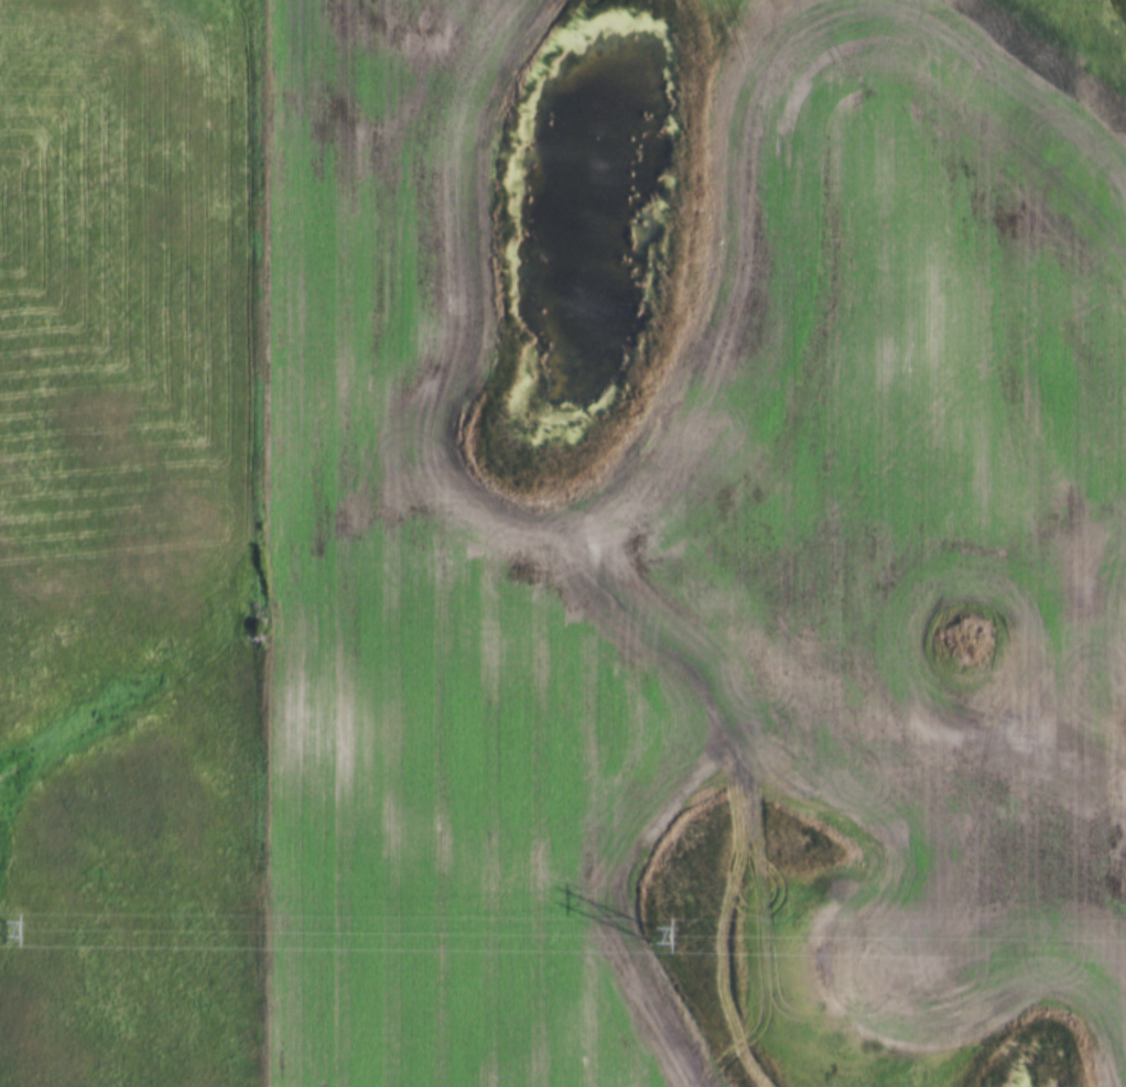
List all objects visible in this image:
road: (260, 543)
power tower: (6, 931)
power tower: (650, 934)

